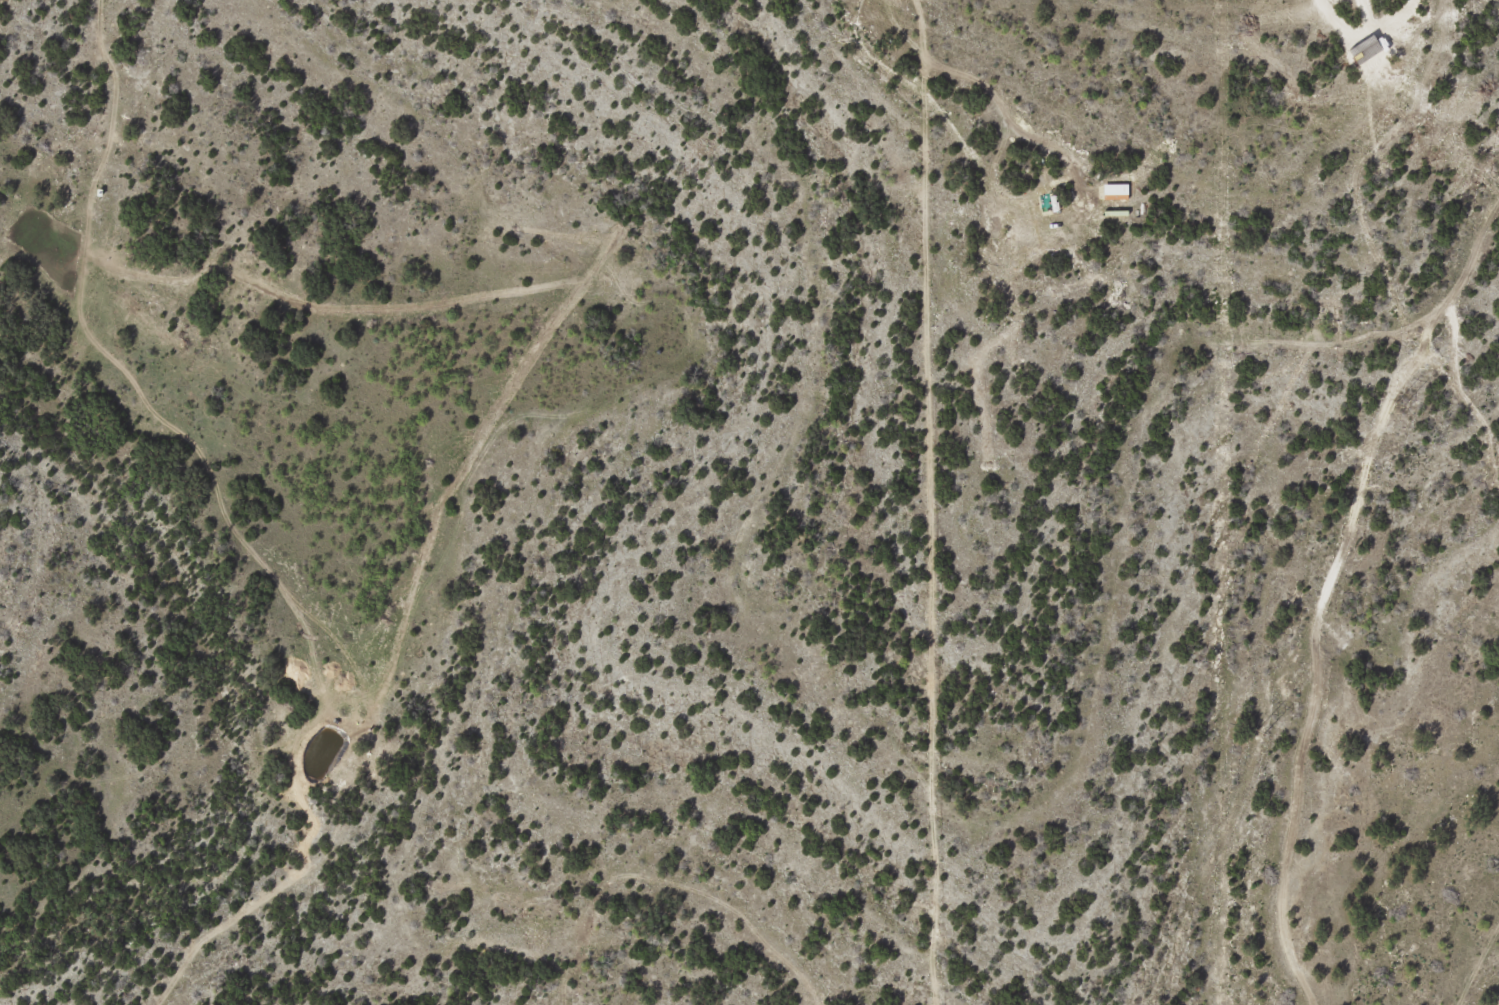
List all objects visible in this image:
power tower: (1399, 401)
road: (876, 502)
power tower: (1260, 731)
road: (1475, 949)

